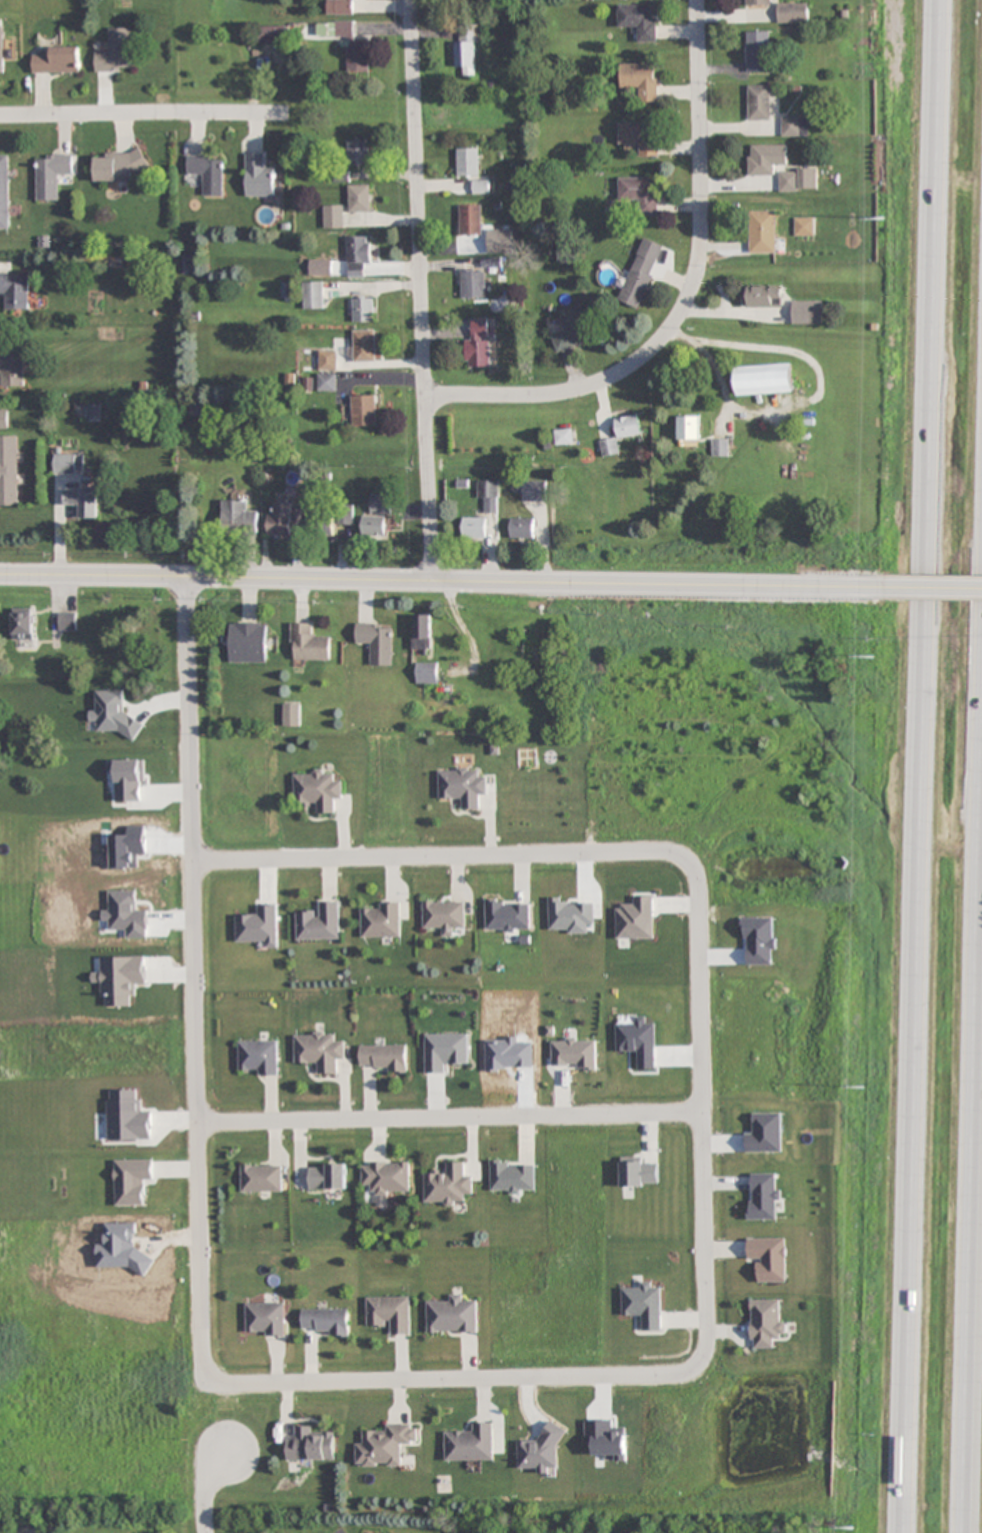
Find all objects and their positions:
building: (757, 2)
building: (340, 7)
building: (792, 12)
building: (638, 20)
building: (272, 34)
building: (353, 48)
building: (1, 49)
building: (466, 49)
building: (757, 51)
building: (116, 53)
building: (57, 62)
building: (640, 79)
building: (759, 102)
road: (145, 114)
building: (795, 126)
building: (639, 137)
building: (358, 151)
building: (766, 159)
building: (467, 162)
building: (117, 167)
building: (208, 173)
building: (51, 176)
building: (259, 178)
building: (798, 180)
building: (480, 187)
building: (4, 192)
building: (640, 194)
building: (358, 198)
building: (333, 217)
building: (470, 220)
building: (804, 226)
building: (763, 231)
building: (490, 245)
building: (358, 256)
building: (642, 273)
building: (473, 283)
building: (15, 290)
road: (420, 291)
building: (763, 295)
building: (313, 296)
road: (689, 300)
building: (363, 309)
building: (807, 312)
building: (573, 329)
building: (479, 343)
building: (364, 345)
building: (327, 361)
building: (12, 366)
building: (764, 379)
building: (327, 382)
building: (364, 410)
building: (3, 419)
building: (627, 426)
building: (689, 427)
building: (563, 436)
building: (720, 447)
building: (68, 465)
building: (9, 471)
building: (743, 482)
building: (531, 489)
building: (489, 494)
building: (82, 503)
building: (380, 503)
building: (346, 515)
building: (238, 517)
building: (284, 518)
building: (321, 522)
building: (374, 526)
building: (475, 527)
building: (522, 528)
road: (439, 582)
road: (930, 588)
building: (66, 622)
building: (22, 624)
building: (424, 632)
building: (247, 642)
building: (377, 642)
building: (309, 644)
building: (427, 672)
building: (291, 715)
road: (921, 766)
building: (461, 786)
building: (317, 790)
road: (435, 857)
building: (444, 916)
building: (508, 916)
building: (381, 921)
building: (319, 922)
road: (192, 981)
building: (319, 1051)
building: (445, 1051)
building: (574, 1053)
building: (258, 1057)
building: (383, 1057)
road: (703, 1106)
road: (451, 1123)
building: (639, 1172)
building: (328, 1176)
building: (387, 1177)
building: (512, 1177)
building: (262, 1178)
building: (447, 1185)
building: (763, 1196)
building: (768, 1258)
building: (390, 1313)
building: (453, 1316)
building: (265, 1319)
building: (325, 1321)
building: (766, 1322)
road: (977, 1352)
road: (456, 1384)
building: (471, 1444)
building: (311, 1445)
building: (385, 1445)
road: (203, 1496)

